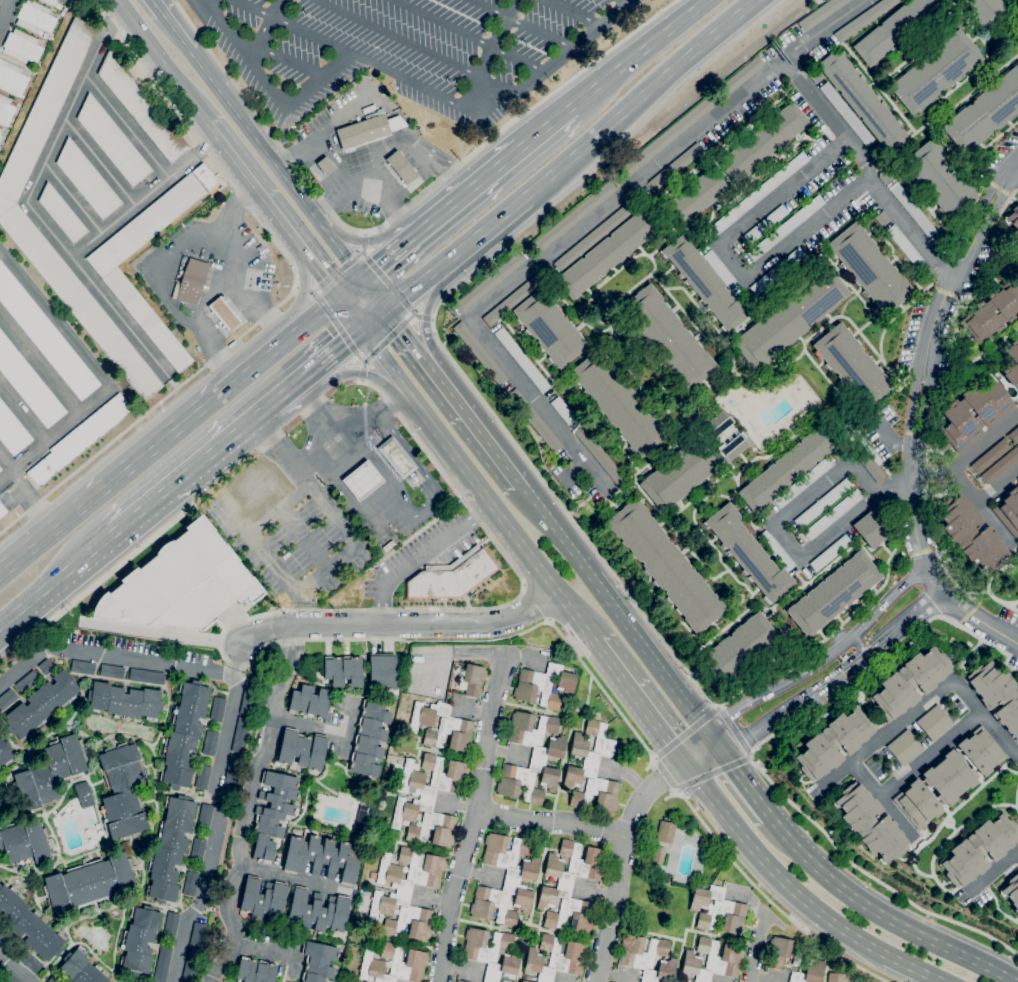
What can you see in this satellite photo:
building: (53, 2)
road: (156, 7)
building: (987, 10)
road: (574, 12)
road: (6, 14)
building: (821, 14)
building: (35, 18)
building: (864, 19)
road: (522, 23)
building: (896, 29)
road: (176, 32)
road: (266, 32)
road: (469, 35)
road: (396, 38)
building: (22, 46)
parking lot: (397, 48)
road: (643, 50)
road: (490, 52)
road: (354, 53)
building: (767, 55)
road: (292, 61)
road: (162, 62)
road: (555, 63)
building: (37, 66)
building: (935, 72)
building: (815, 75)
building: (12, 79)
road: (659, 79)
road: (268, 89)
building: (862, 100)
building: (141, 108)
building: (6, 111)
building: (984, 112)
building: (847, 114)
building: (690, 117)
road: (551, 123)
road: (125, 126)
building: (368, 129)
building: (1, 131)
road: (318, 138)
building: (1, 139)
building: (112, 141)
building: (763, 142)
gas station: (363, 152)
road: (411, 152)
building: (878, 152)
road: (333, 160)
road: (99, 162)
road: (275, 164)
building: (325, 165)
building: (676, 166)
building: (401, 167)
road: (868, 170)
road: (1016, 171)
building: (885, 176)
building: (939, 179)
building: (87, 180)
road: (367, 181)
road: (477, 182)
road: (411, 184)
building: (756, 196)
road: (72, 198)
building: (694, 199)
building: (912, 209)
road: (507, 210)
road: (400, 212)
building: (12, 213)
building: (61, 214)
building: (575, 215)
road: (38, 218)
building: (882, 218)
building: (765, 225)
road: (579, 226)
building: (1015, 226)
road: (283, 227)
building: (786, 228)
road: (417, 233)
road: (365, 234)
building: (594, 237)
road: (377, 239)
building: (939, 242)
building: (905, 245)
building: (607, 254)
road: (730, 258)
road: (172, 267)
building: (870, 268)
road: (369, 270)
building: (721, 270)
road: (338, 271)
building: (777, 271)
building: (108, 272)
gas station: (213, 272)
building: (926, 272)
traffic signals: (361, 278)
road: (418, 281)
building: (489, 281)
building: (190, 282)
building: (705, 282)
road: (389, 284)
road: (297, 287)
road: (374, 292)
road: (303, 295)
road: (249, 296)
traffic signals: (337, 297)
road: (211, 299)
building: (514, 299)
road: (283, 300)
traffic signals: (388, 307)
road: (427, 308)
building: (224, 313)
building: (991, 313)
road: (119, 317)
road: (311, 318)
road: (424, 318)
building: (790, 318)
road: (339, 327)
building: (550, 328)
traffic signals: (361, 329)
road: (409, 334)
building: (45, 336)
road: (352, 336)
building: (668, 337)
road: (381, 343)
building: (232, 344)
building: (480, 353)
building: (522, 359)
road: (385, 363)
road: (39, 365)
building: (852, 366)
road: (98, 372)
road: (345, 374)
road: (362, 380)
road: (297, 381)
building: (28, 383)
building: (618, 403)
building: (979, 406)
building: (563, 411)
road: (22, 413)
road: (917, 419)
building: (534, 421)
road: (477, 423)
building: (716, 424)
building: (12, 431)
road: (378, 432)
building: (1013, 435)
road: (889, 436)
road: (349, 437)
building: (80, 439)
building: (733, 448)
building: (838, 454)
building: (990, 455)
building: (396, 456)
road: (397, 456)
building: (601, 456)
road: (967, 456)
road: (142, 457)
building: (871, 461)
road: (5, 462)
road: (196, 464)
building: (1000, 465)
building: (788, 467)
building: (0, 469)
road: (292, 469)
road: (574, 470)
building: (679, 474)
road: (1, 476)
road: (301, 480)
building: (362, 480)
gas station: (362, 480)
building: (804, 481)
road: (431, 482)
road: (544, 482)
road: (421, 486)
road: (998, 486)
building: (250, 497)
building: (823, 502)
road: (27, 503)
road: (983, 507)
building: (2, 510)
road: (379, 510)
building: (1008, 510)
building: (768, 513)
road: (782, 513)
building: (833, 514)
road: (503, 519)
building: (870, 529)
road: (160, 531)
building: (971, 534)
road: (239, 541)
building: (776, 550)
building: (830, 552)
building: (747, 553)
road: (422, 556)
building: (665, 565)
building: (452, 576)
road: (318, 577)
road: (57, 578)
building: (180, 583)
building: (833, 593)
road: (310, 604)
road: (923, 606)
road: (614, 608)
road: (869, 618)
road: (233, 623)
road: (404, 623)
road: (898, 626)
road: (858, 646)
building: (740, 648)
road: (869, 650)
road: (112, 656)
road: (242, 656)
building: (46, 666)
building: (82, 667)
building: (343, 670)
building: (111, 671)
building: (382, 672)
building: (146, 676)
building: (472, 679)
building: (27, 682)
road: (833, 682)
building: (910, 682)
building: (544, 685)
building: (997, 694)
building: (248, 696)
road: (758, 696)
building: (6, 699)
road: (924, 700)
building: (124, 701)
building: (309, 702)
road: (641, 704)
building: (41, 705)
building: (217, 709)
building: (934, 723)
road: (312, 725)
building: (441, 727)
road: (227, 728)
road: (736, 729)
road: (686, 733)
building: (184, 734)
building: (240, 734)
road: (751, 734)
building: (369, 739)
building: (210, 742)
building: (834, 742)
road: (696, 748)
building: (905, 748)
building: (302, 749)
building: (5, 752)
traffic signals: (722, 752)
road: (931, 755)
building: (532, 758)
building: (389, 759)
traffic signals: (686, 766)
building: (591, 770)
road: (715, 771)
building: (50, 772)
building: (233, 772)
road: (664, 773)
road: (738, 774)
building: (202, 777)
building: (949, 777)
road: (678, 791)
building: (123, 792)
building: (84, 794)
building: (429, 799)
road: (478, 799)
road: (881, 801)
road: (247, 805)
building: (273, 813)
building: (205, 816)
building: (361, 818)
road: (551, 821)
building: (870, 823)
building: (665, 832)
building: (24, 843)
building: (169, 849)
building: (198, 849)
building: (979, 849)
building: (657, 855)
building: (322, 858)
road: (621, 862)
road: (856, 867)
road: (991, 868)
building: (373, 875)
road: (293, 878)
building: (505, 879)
building: (89, 883)
building: (190, 883)
road: (205, 886)
building: (569, 886)
building: (1011, 892)
building: (405, 893)
road: (796, 895)
road: (766, 896)
building: (262, 898)
building: (360, 899)
building: (718, 910)
building: (317, 911)
road: (881, 915)
building: (29, 924)
building: (171, 924)
building: (4, 938)
building: (139, 940)
building: (196, 940)
road: (757, 947)
road: (266, 952)
building: (777, 952)
building: (490, 953)
building: (647, 957)
building: (554, 958)
building: (713, 960)
building: (30, 962)
building: (318, 962)
building: (162, 963)
building: (394, 964)
building: (0, 965)
road: (15, 967)
building: (81, 968)
building: (255, 970)
building: (190, 971)
building: (809, 973)
building: (835, 977)
building: (10, 978)
building: (53, 979)
building: (456, 981)
building: (460, 981)
building: (524, 981)

